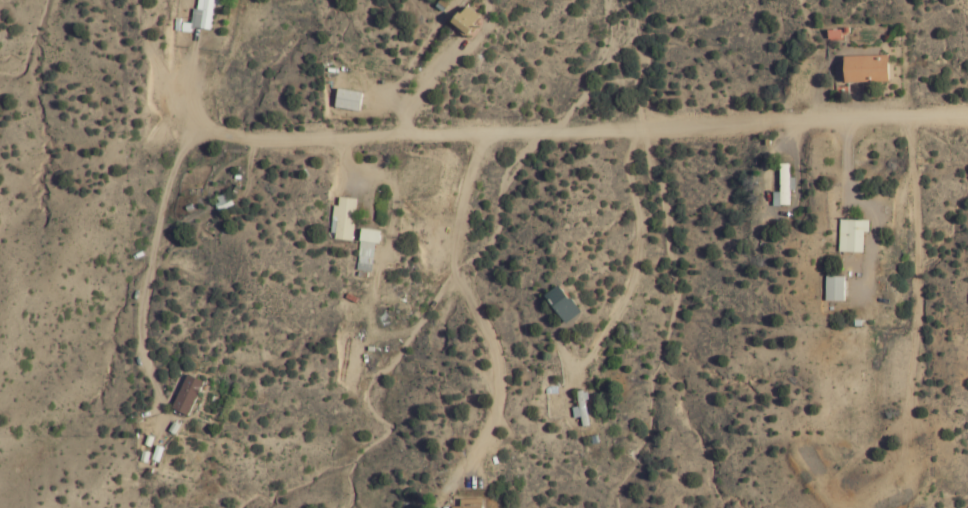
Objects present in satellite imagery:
building: (471, 19)
building: (874, 67)
building: (350, 99)
road: (456, 131)
building: (783, 187)
building: (343, 218)
building: (852, 234)
building: (368, 248)
building: (836, 288)
building: (566, 303)
building: (191, 394)
building: (582, 409)
building: (474, 501)
building: (469, 507)

